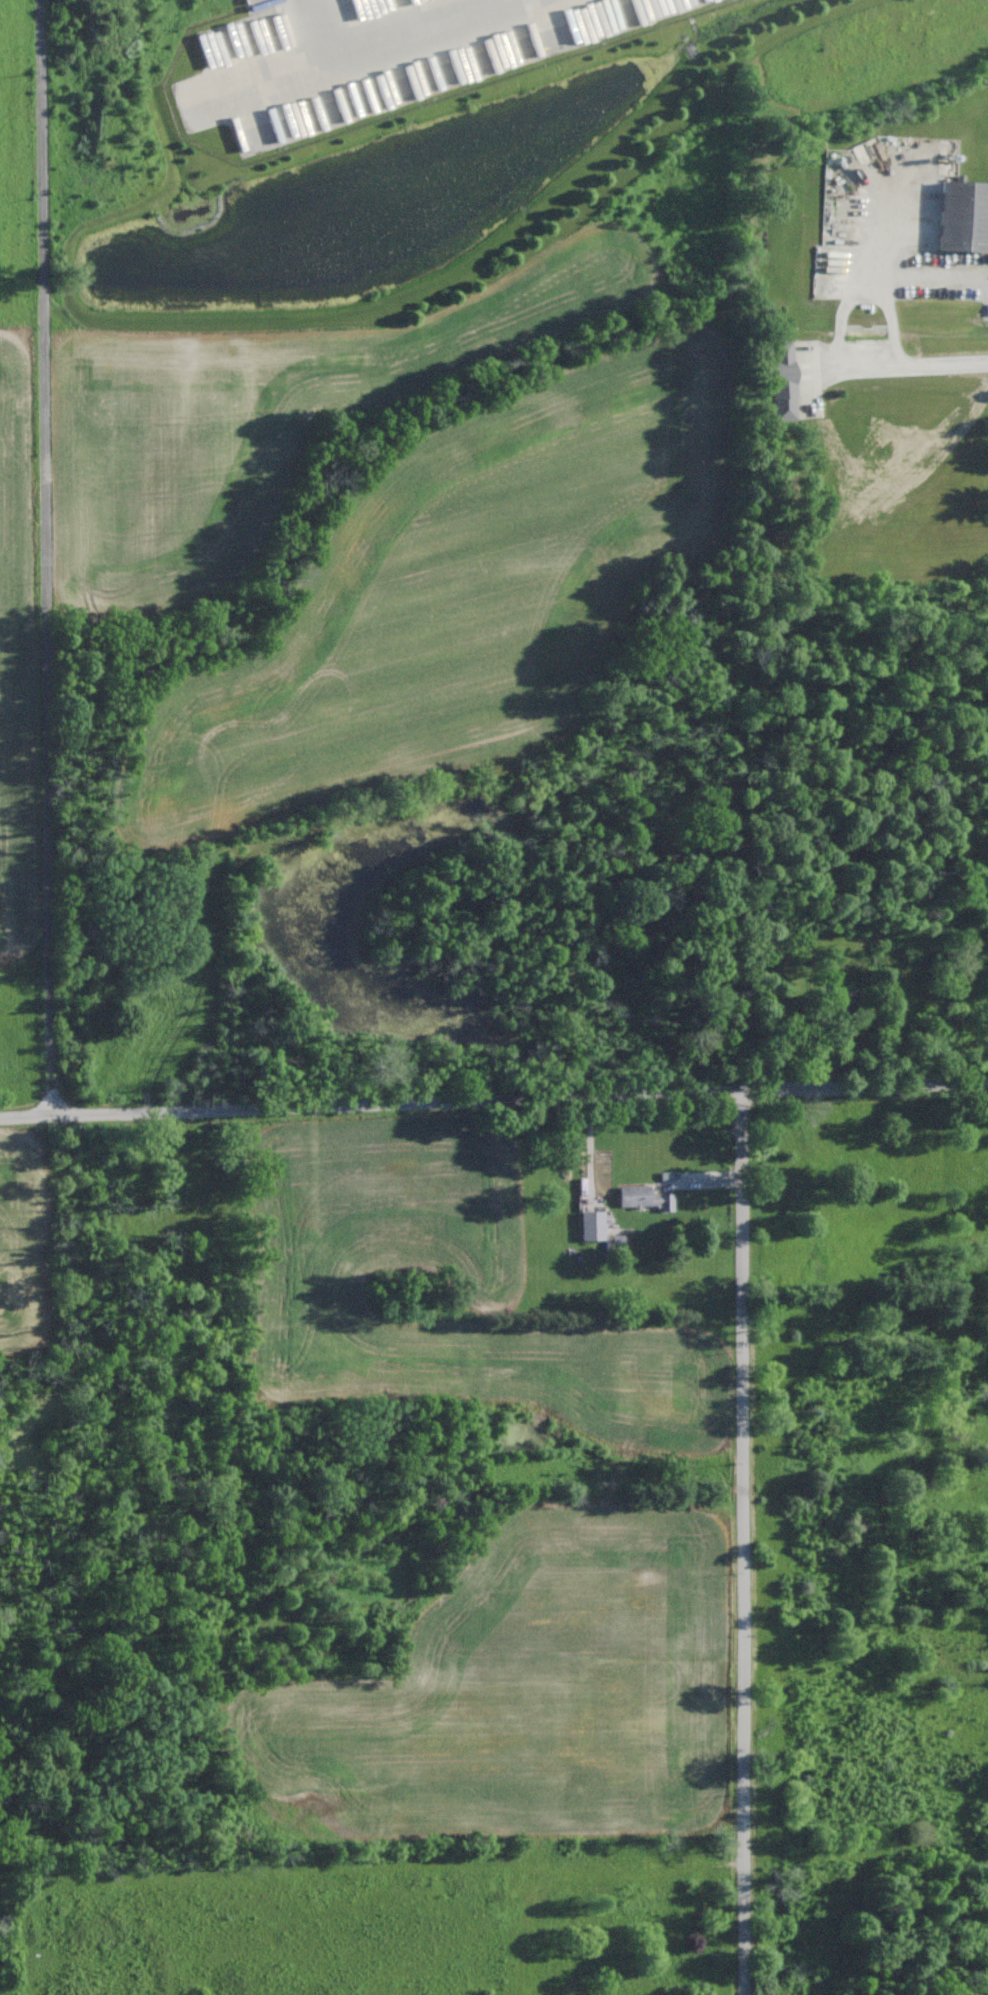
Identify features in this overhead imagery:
road: (324, 20)
road: (419, 29)
parking lot: (378, 55)
building: (963, 216)
road: (892, 322)
road: (840, 334)
building: (783, 380)
road: (46, 556)
building: (844, 1004)
building: (922, 1085)
road: (863, 1087)
road: (369, 1103)
building: (645, 1198)
building: (592, 1225)
road: (740, 1543)

